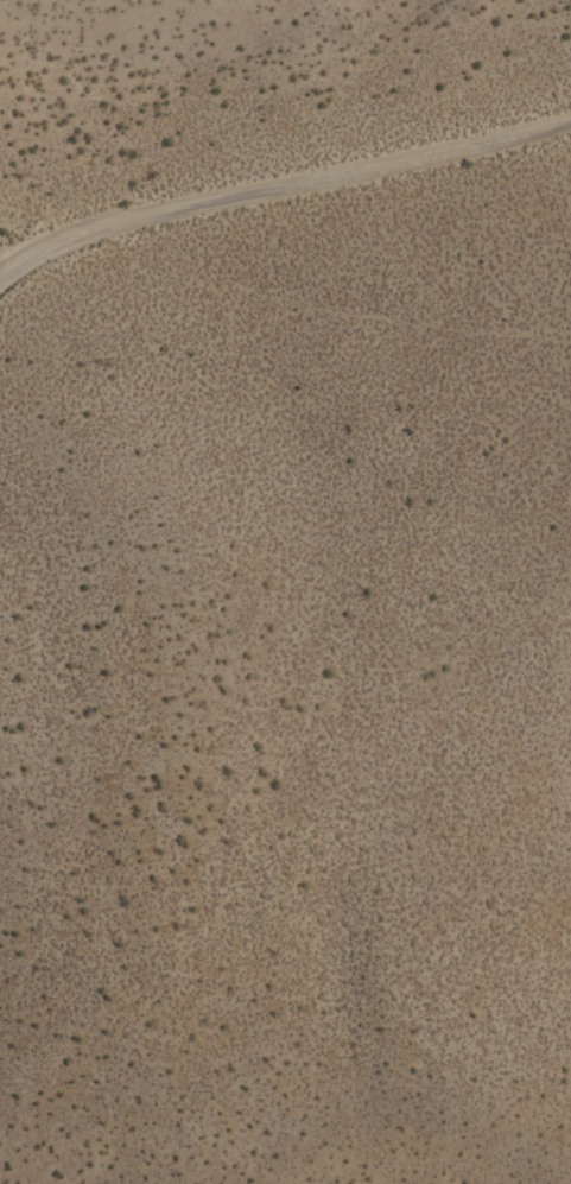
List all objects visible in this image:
road: (283, 185)
road: (9, 266)

